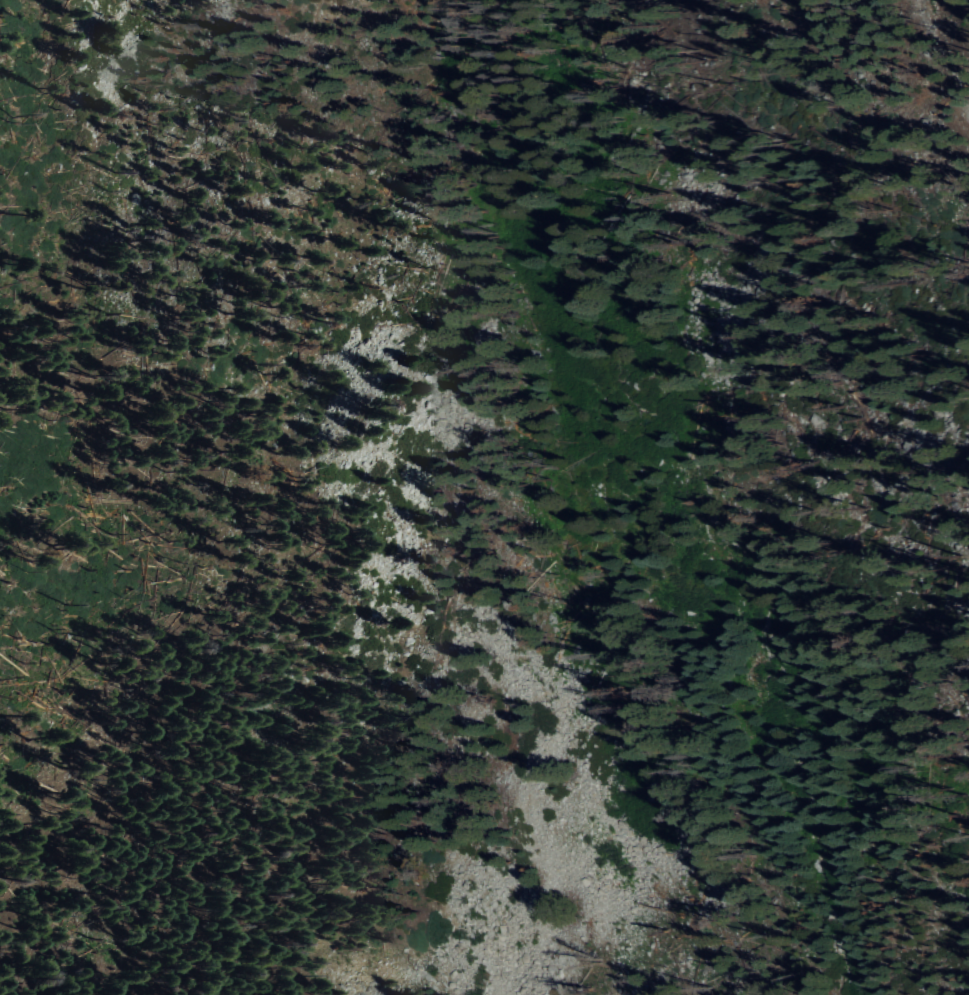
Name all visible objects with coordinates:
road: (495, 36)

